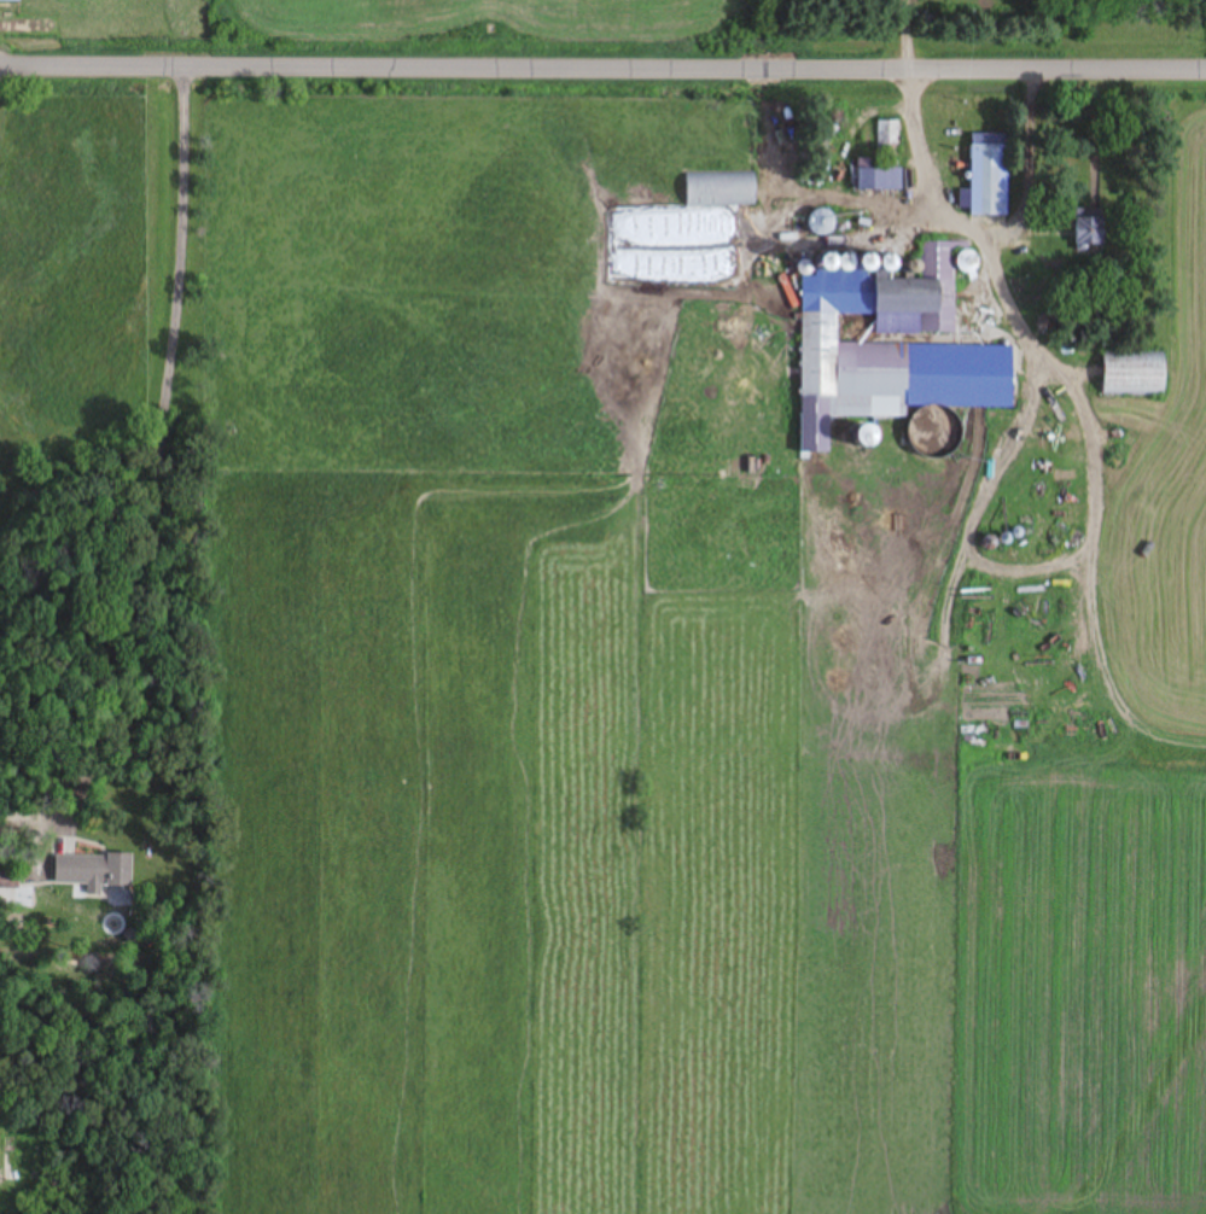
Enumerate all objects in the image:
road: (602, 66)
building: (884, 162)
building: (989, 175)
building: (722, 189)
building: (821, 222)
building: (1090, 227)
building: (892, 350)
road: (163, 431)
crop: (664, 716)
building: (97, 872)

